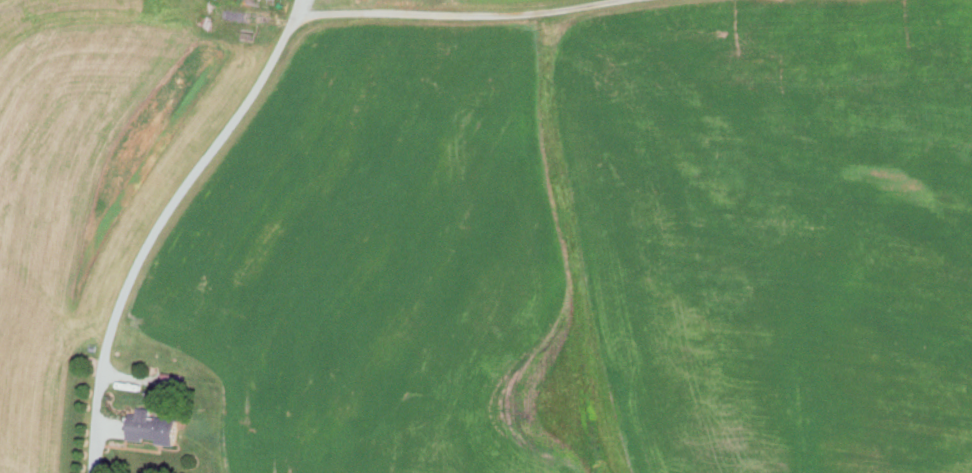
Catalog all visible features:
road: (433, 12)
road: (153, 232)
building: (155, 425)

